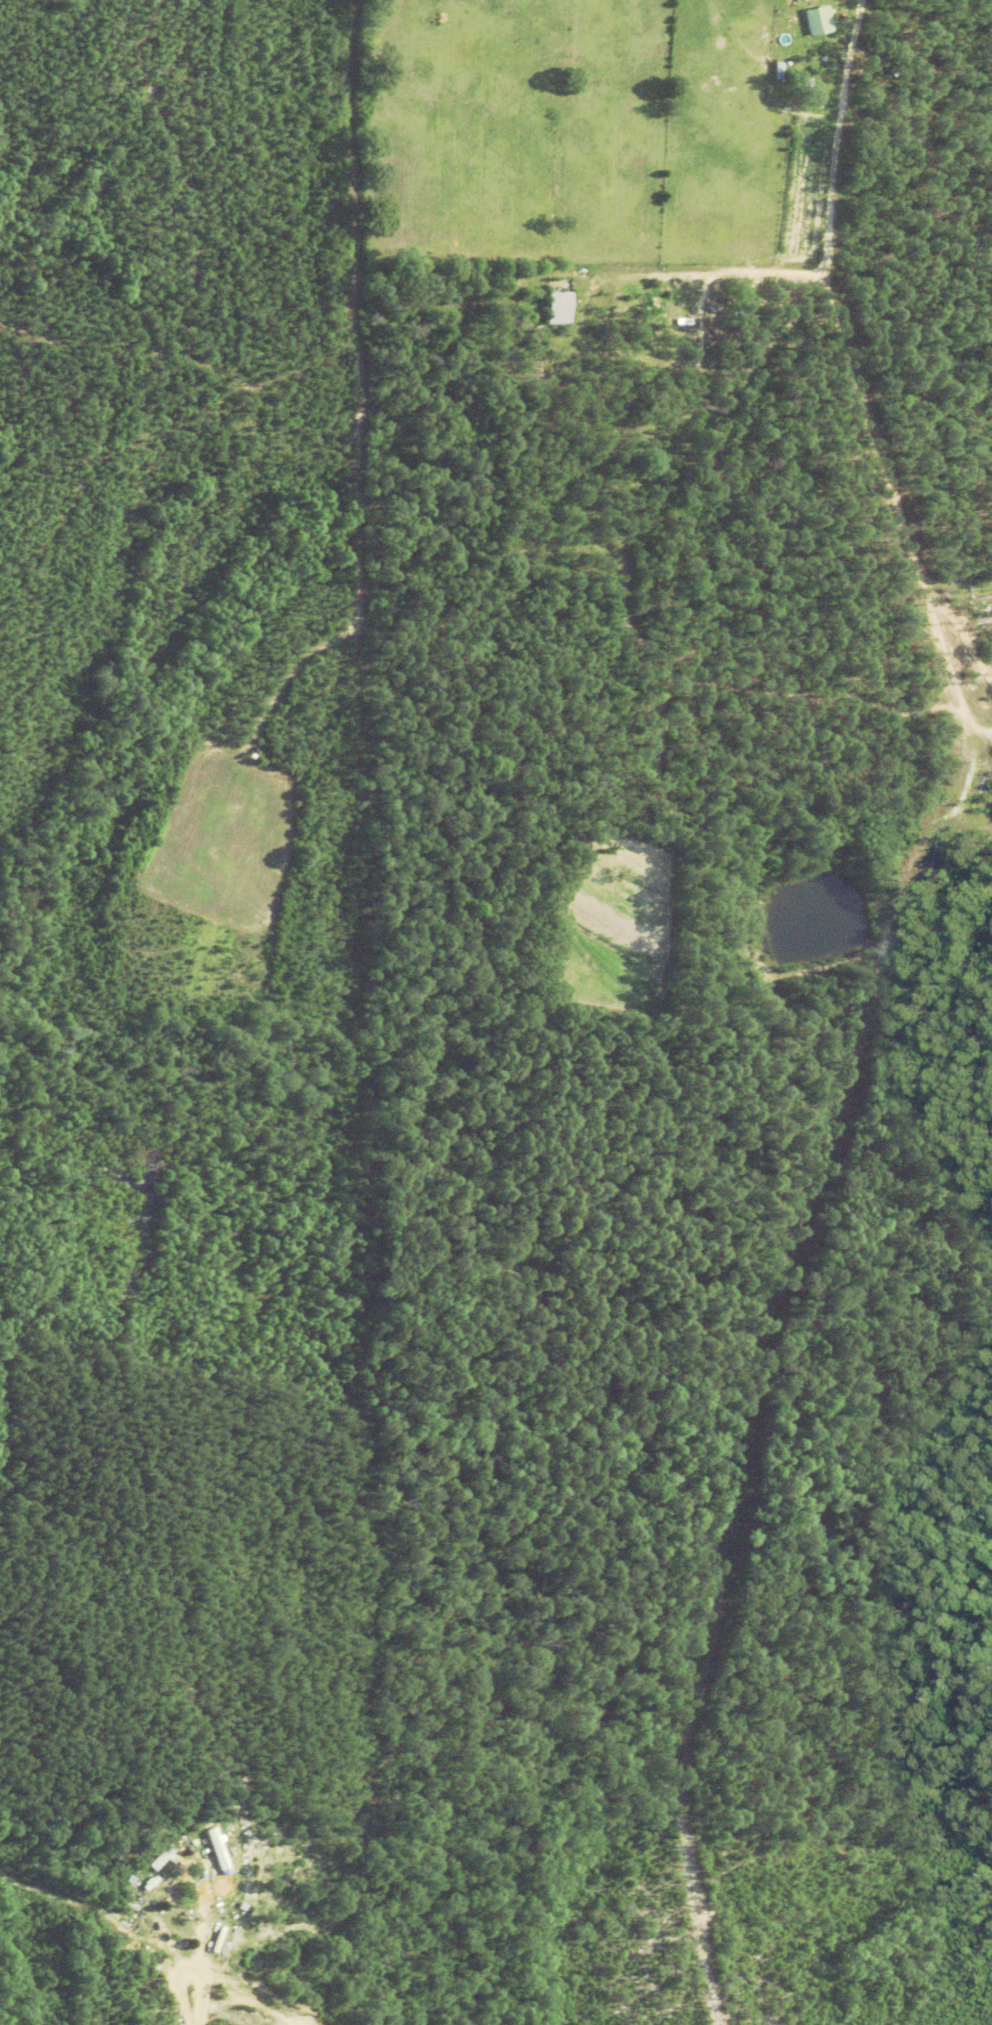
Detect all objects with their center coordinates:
building: (819, 22)
building: (560, 310)
building: (754, 329)
road: (812, 359)
road: (970, 647)
road: (967, 714)
road: (970, 760)
building: (162, 1859)
road: (201, 1962)

